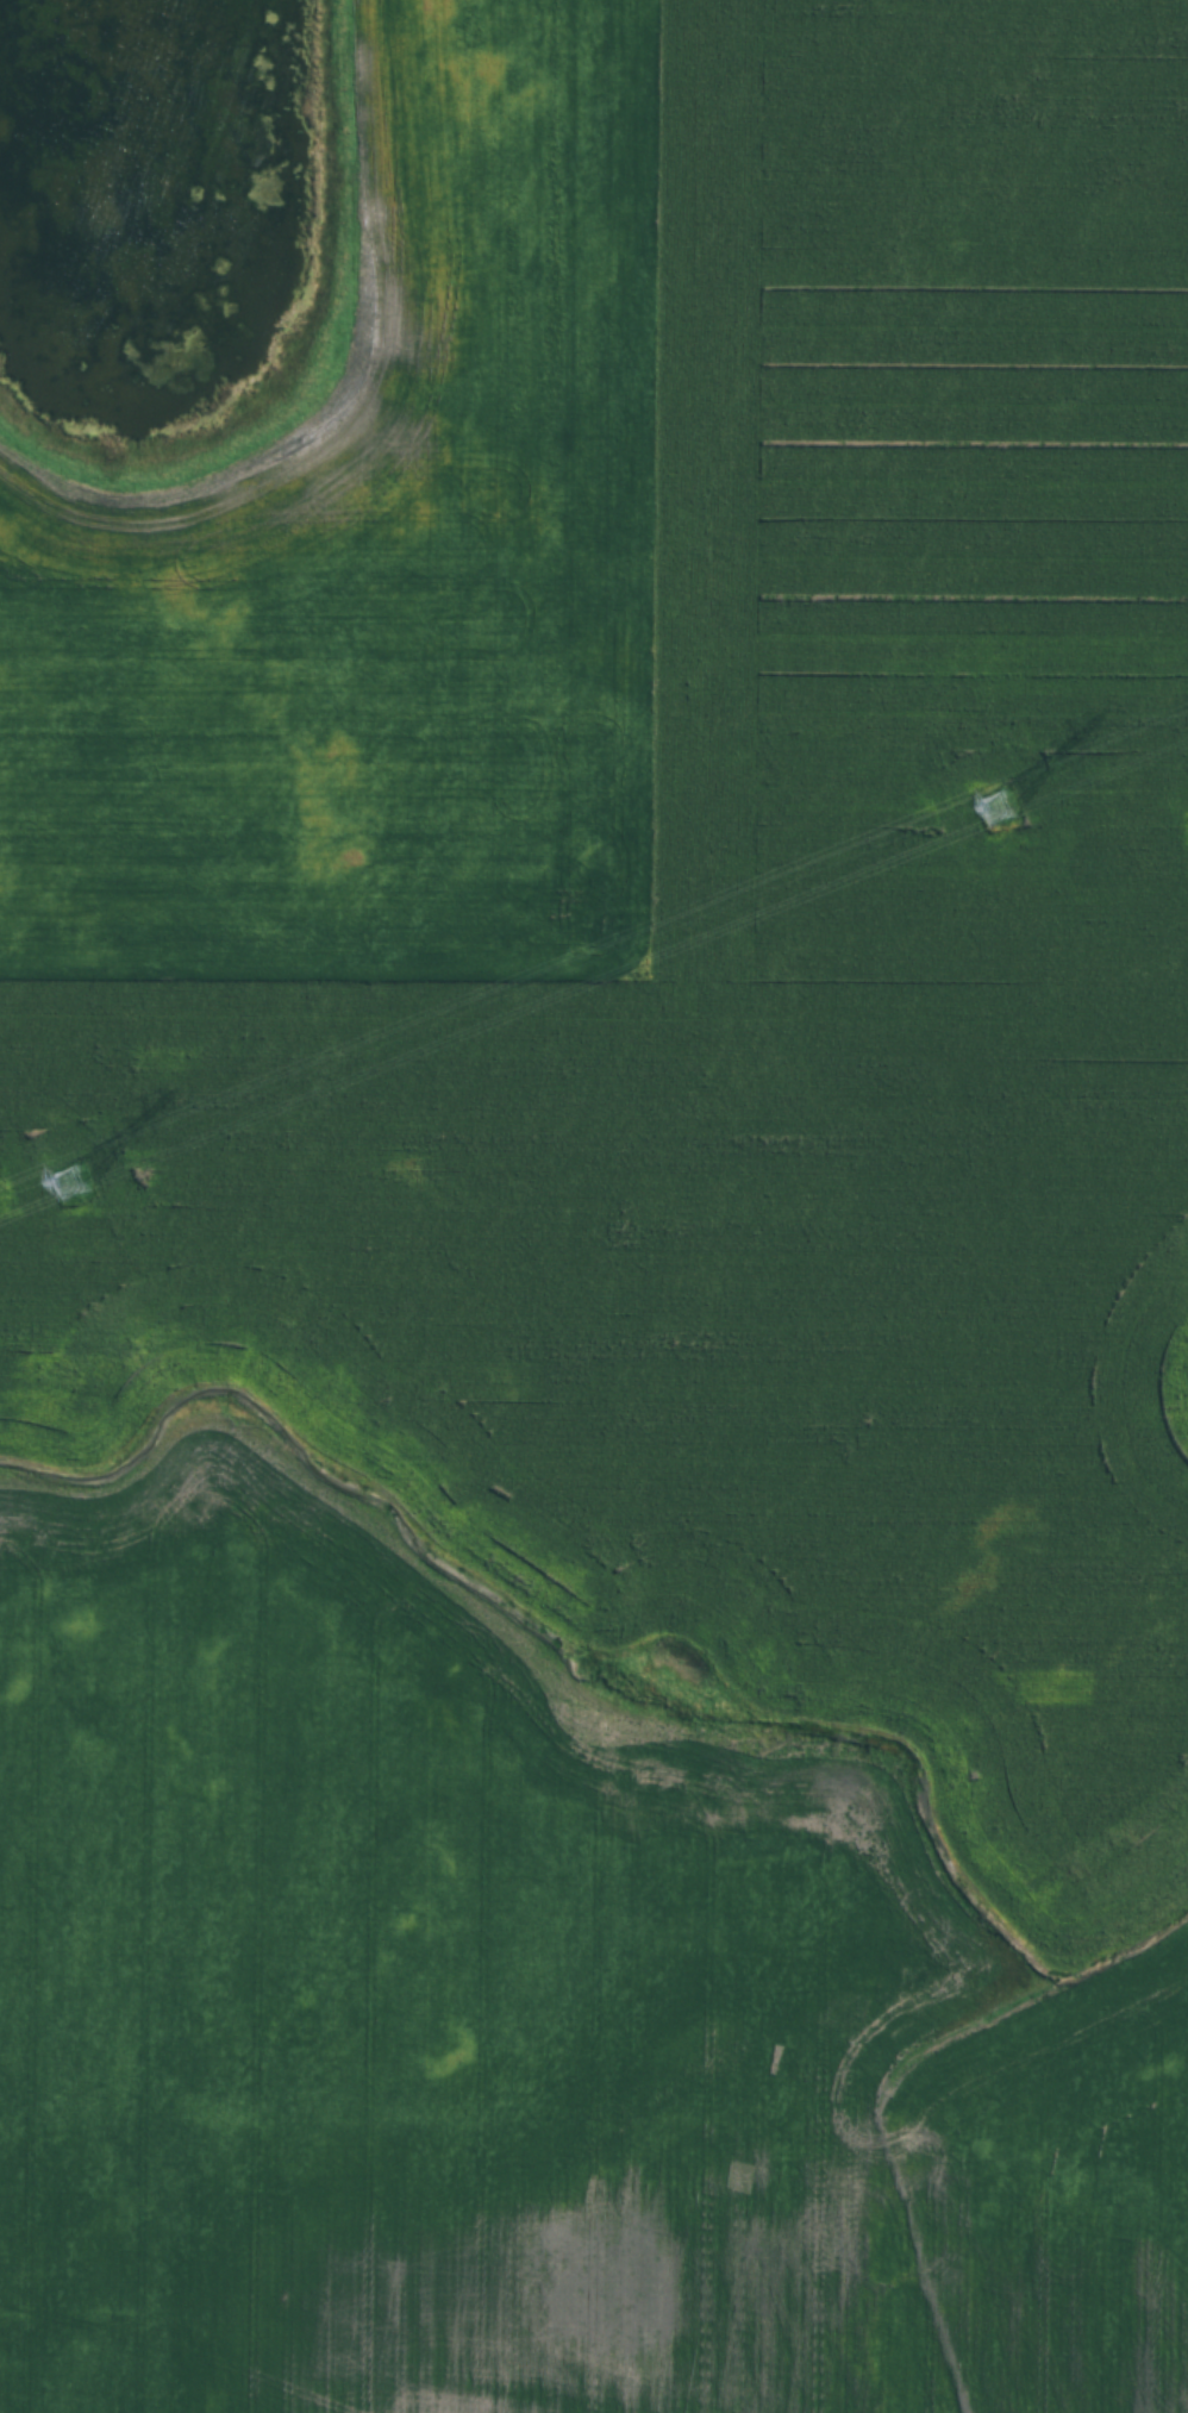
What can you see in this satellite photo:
power tower: (1000, 811)
power tower: (71, 1183)

